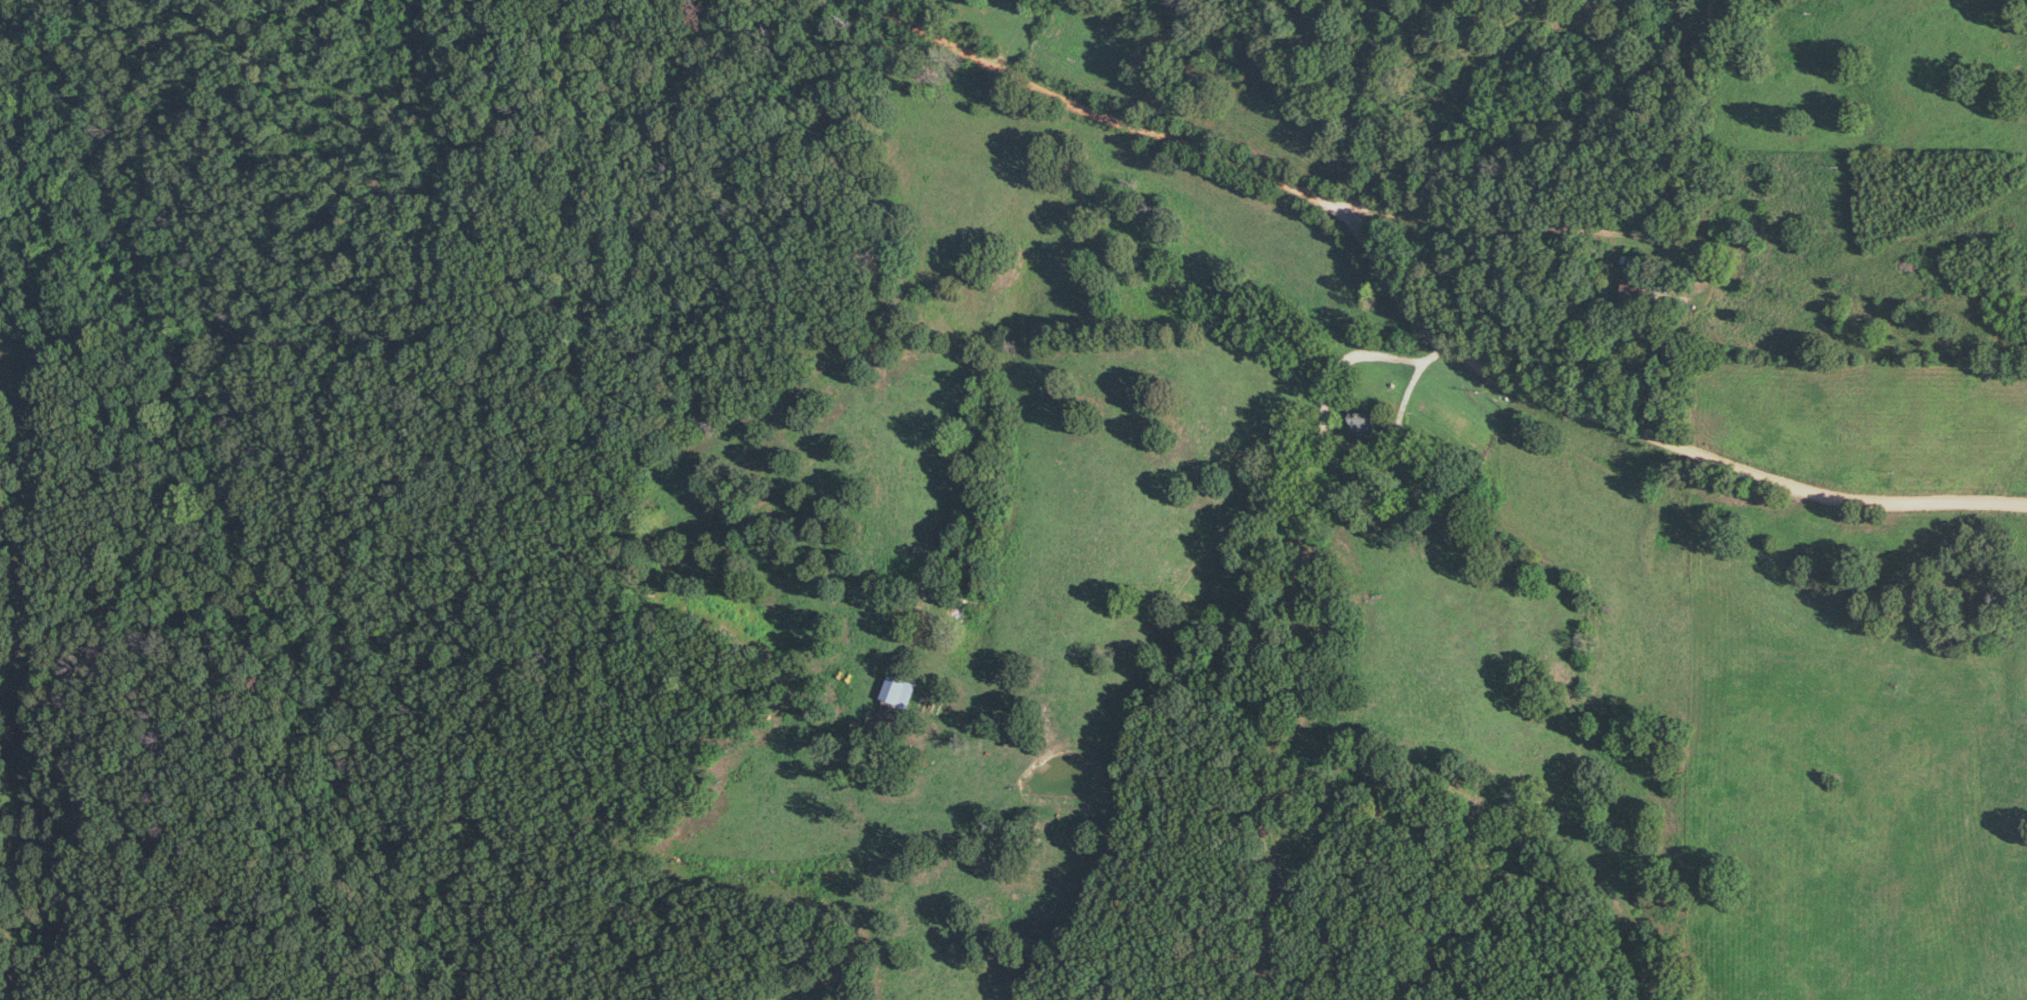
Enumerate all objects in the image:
road: (1561, 123)
road: (1488, 230)
building: (1642, 287)
road: (1410, 324)
road: (1335, 441)
building: (898, 692)

